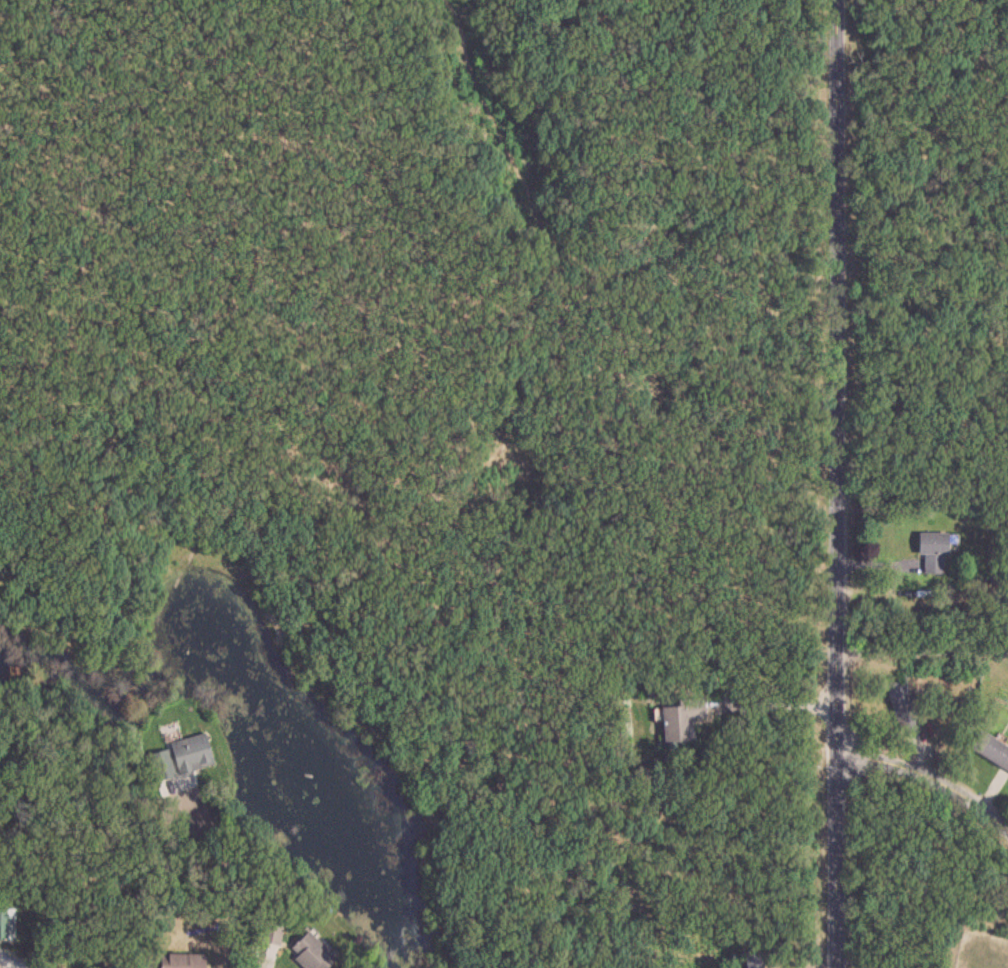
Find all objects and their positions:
road: (831, 484)
building: (930, 550)
road: (919, 647)
road: (778, 702)
building: (900, 704)
building: (678, 719)
building: (990, 750)
building: (189, 752)
road: (928, 780)
road: (227, 881)
building: (6, 923)
building: (308, 952)
building: (176, 960)
building: (751, 960)
road: (20, 963)
road: (260, 966)

